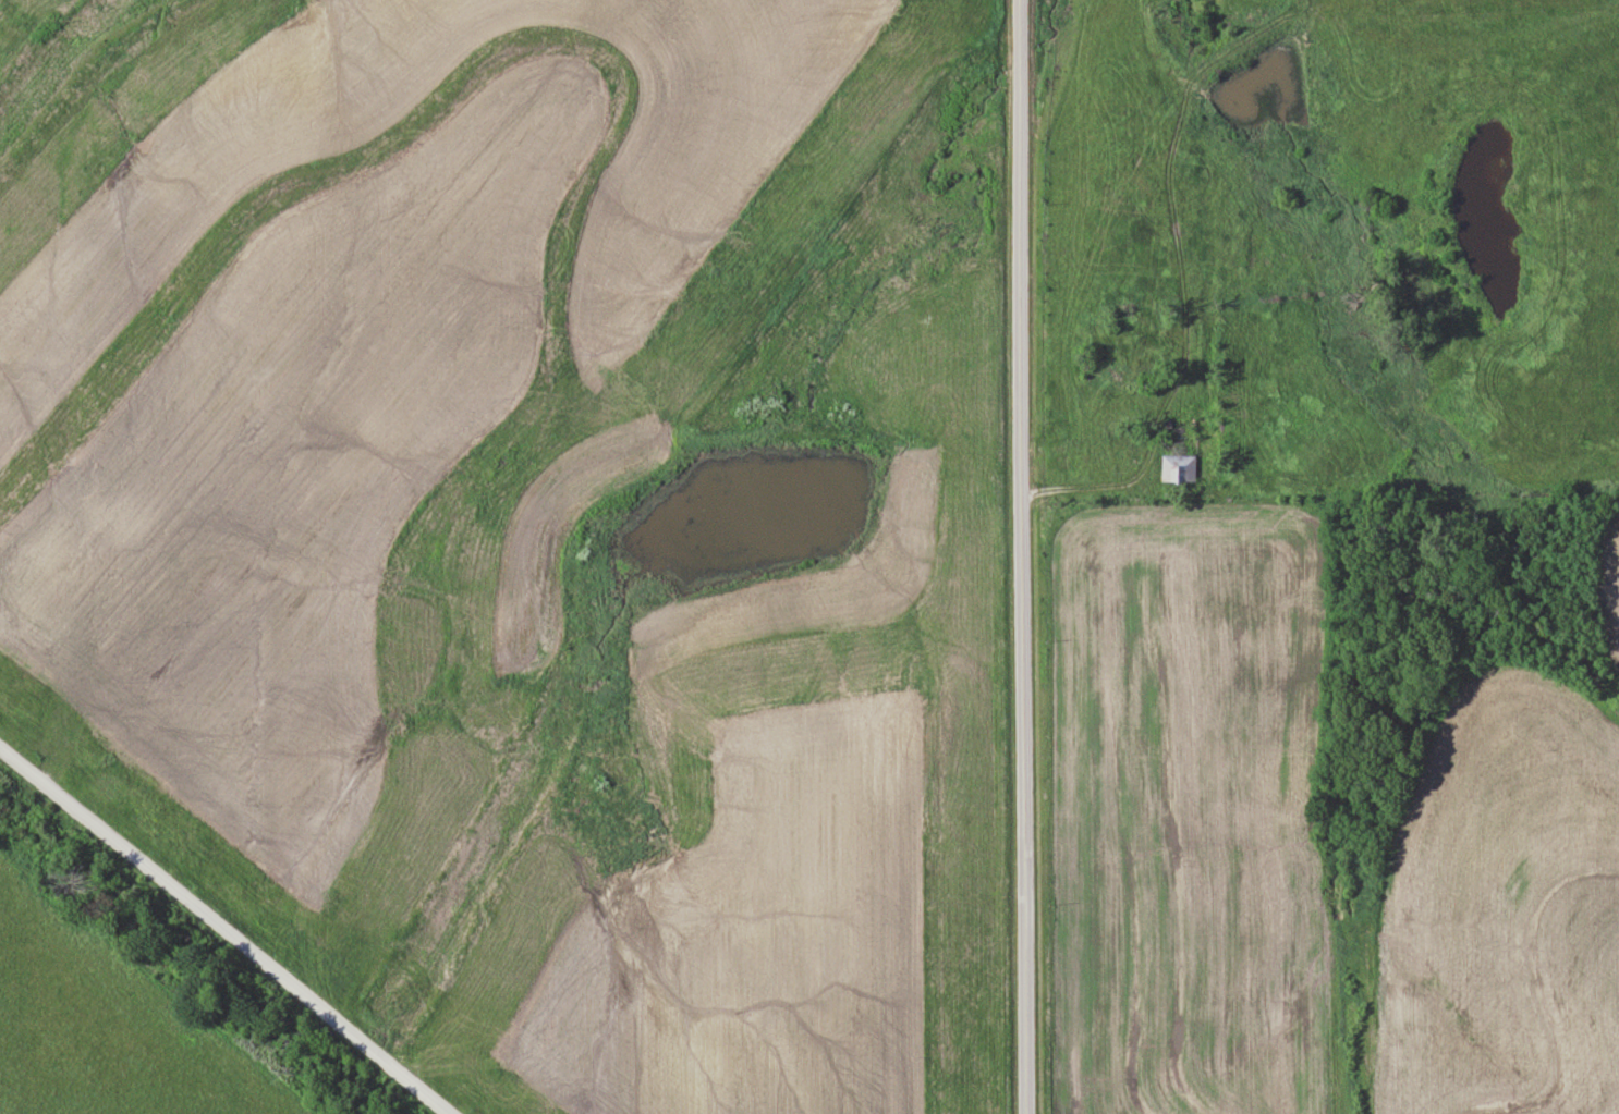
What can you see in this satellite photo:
building: (1178, 468)
road: (1094, 493)
road: (1017, 556)
road: (222, 932)

